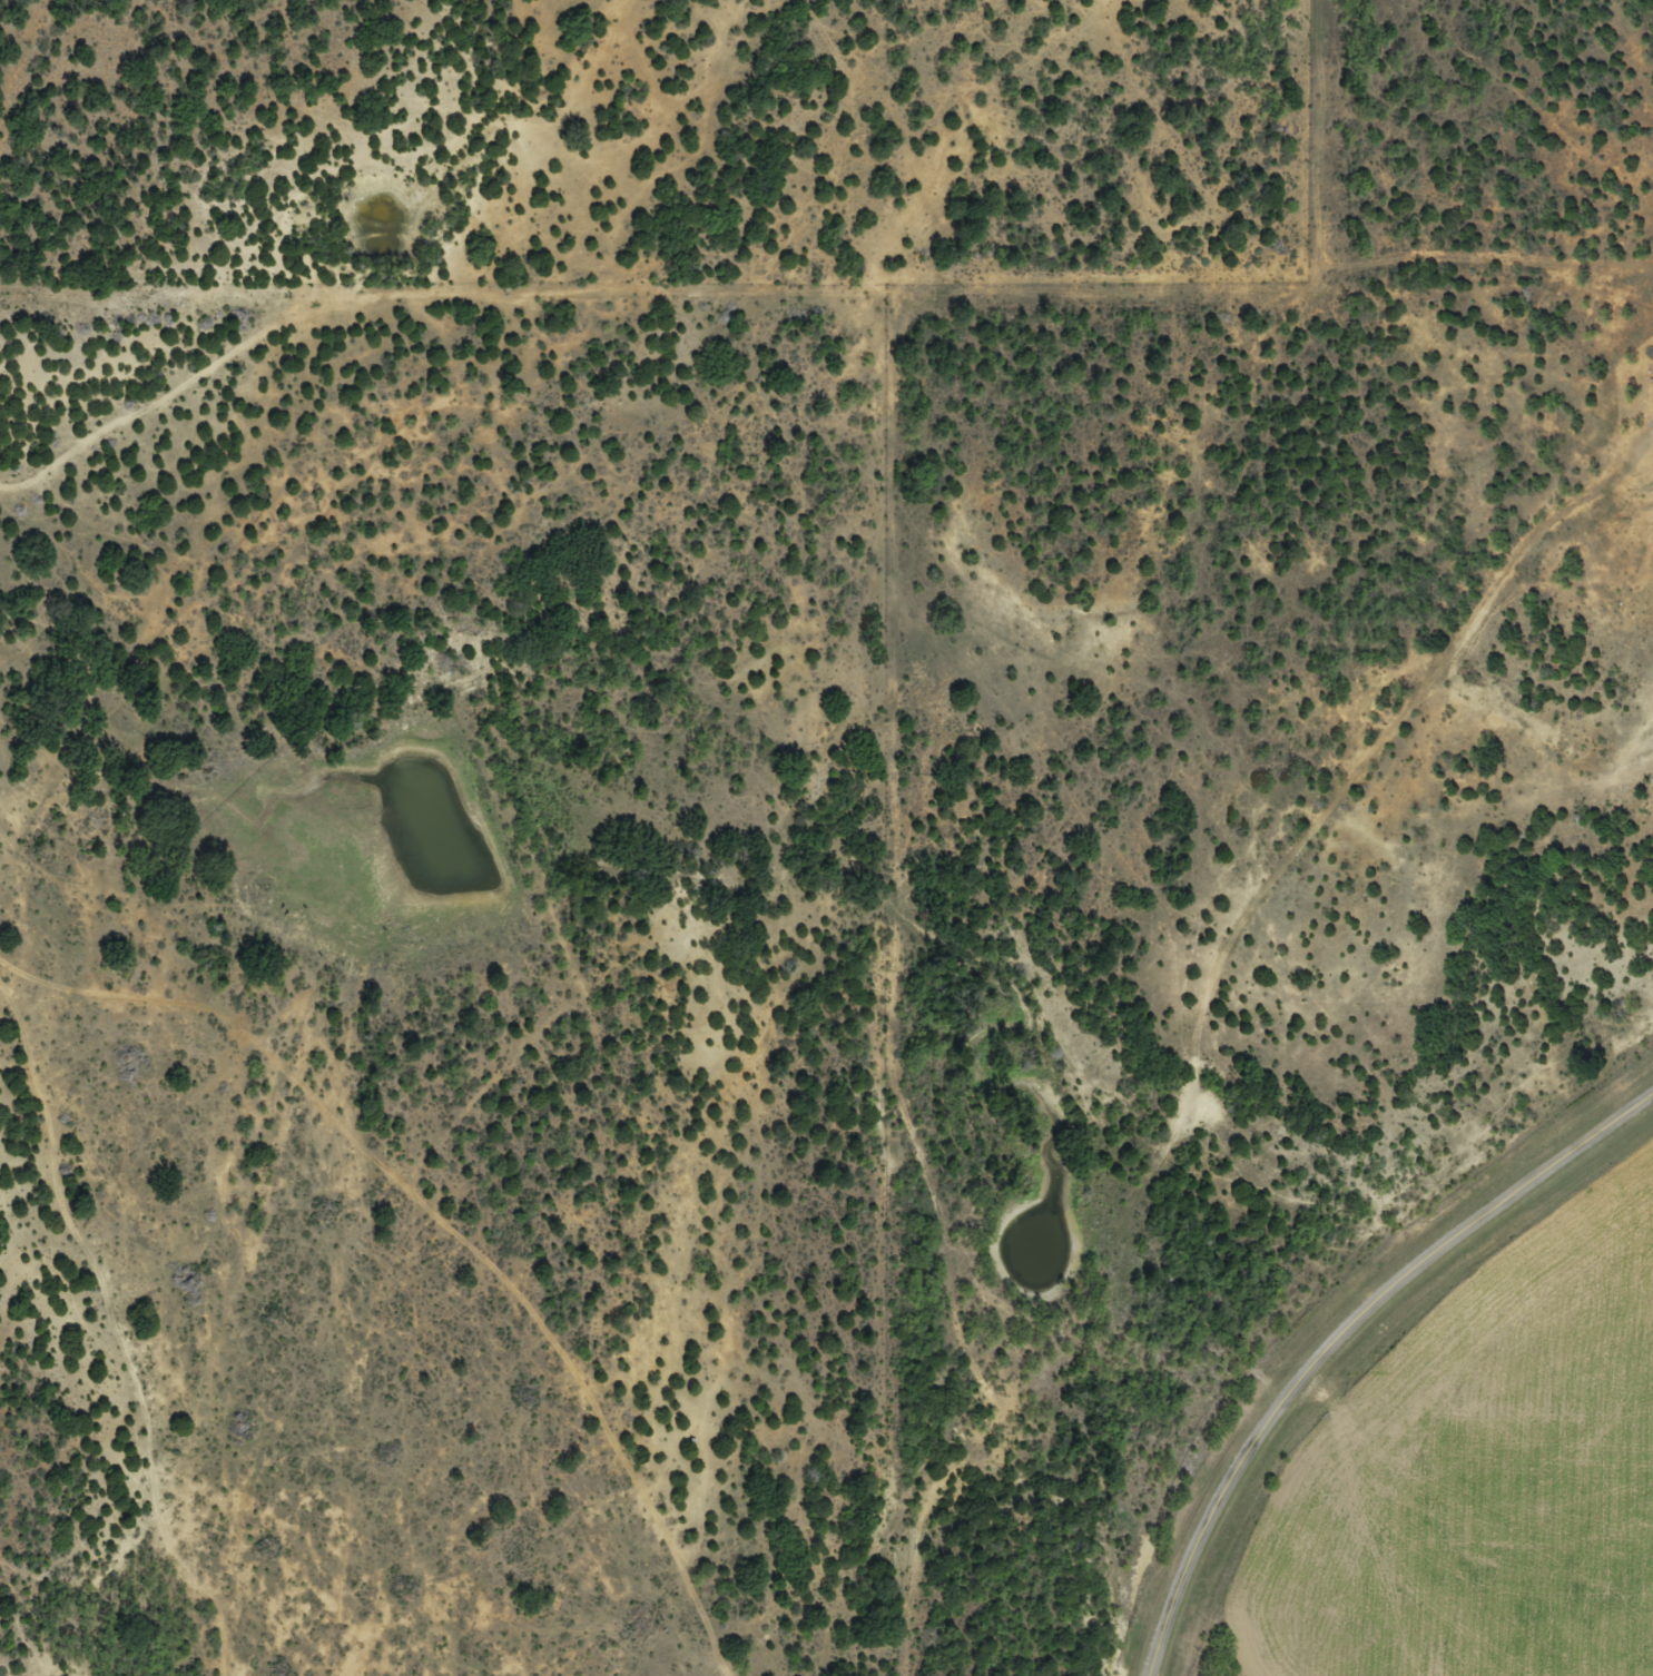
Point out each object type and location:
road: (1341, 1335)

